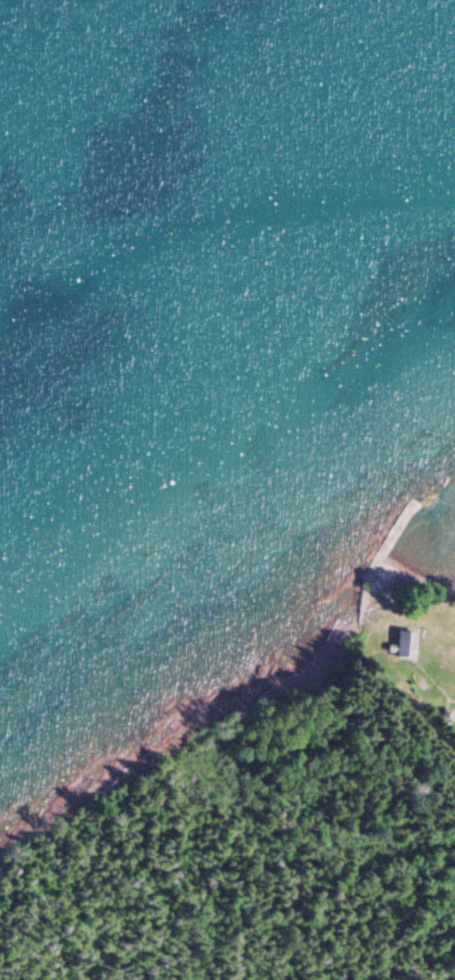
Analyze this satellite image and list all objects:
building: (403, 645)

